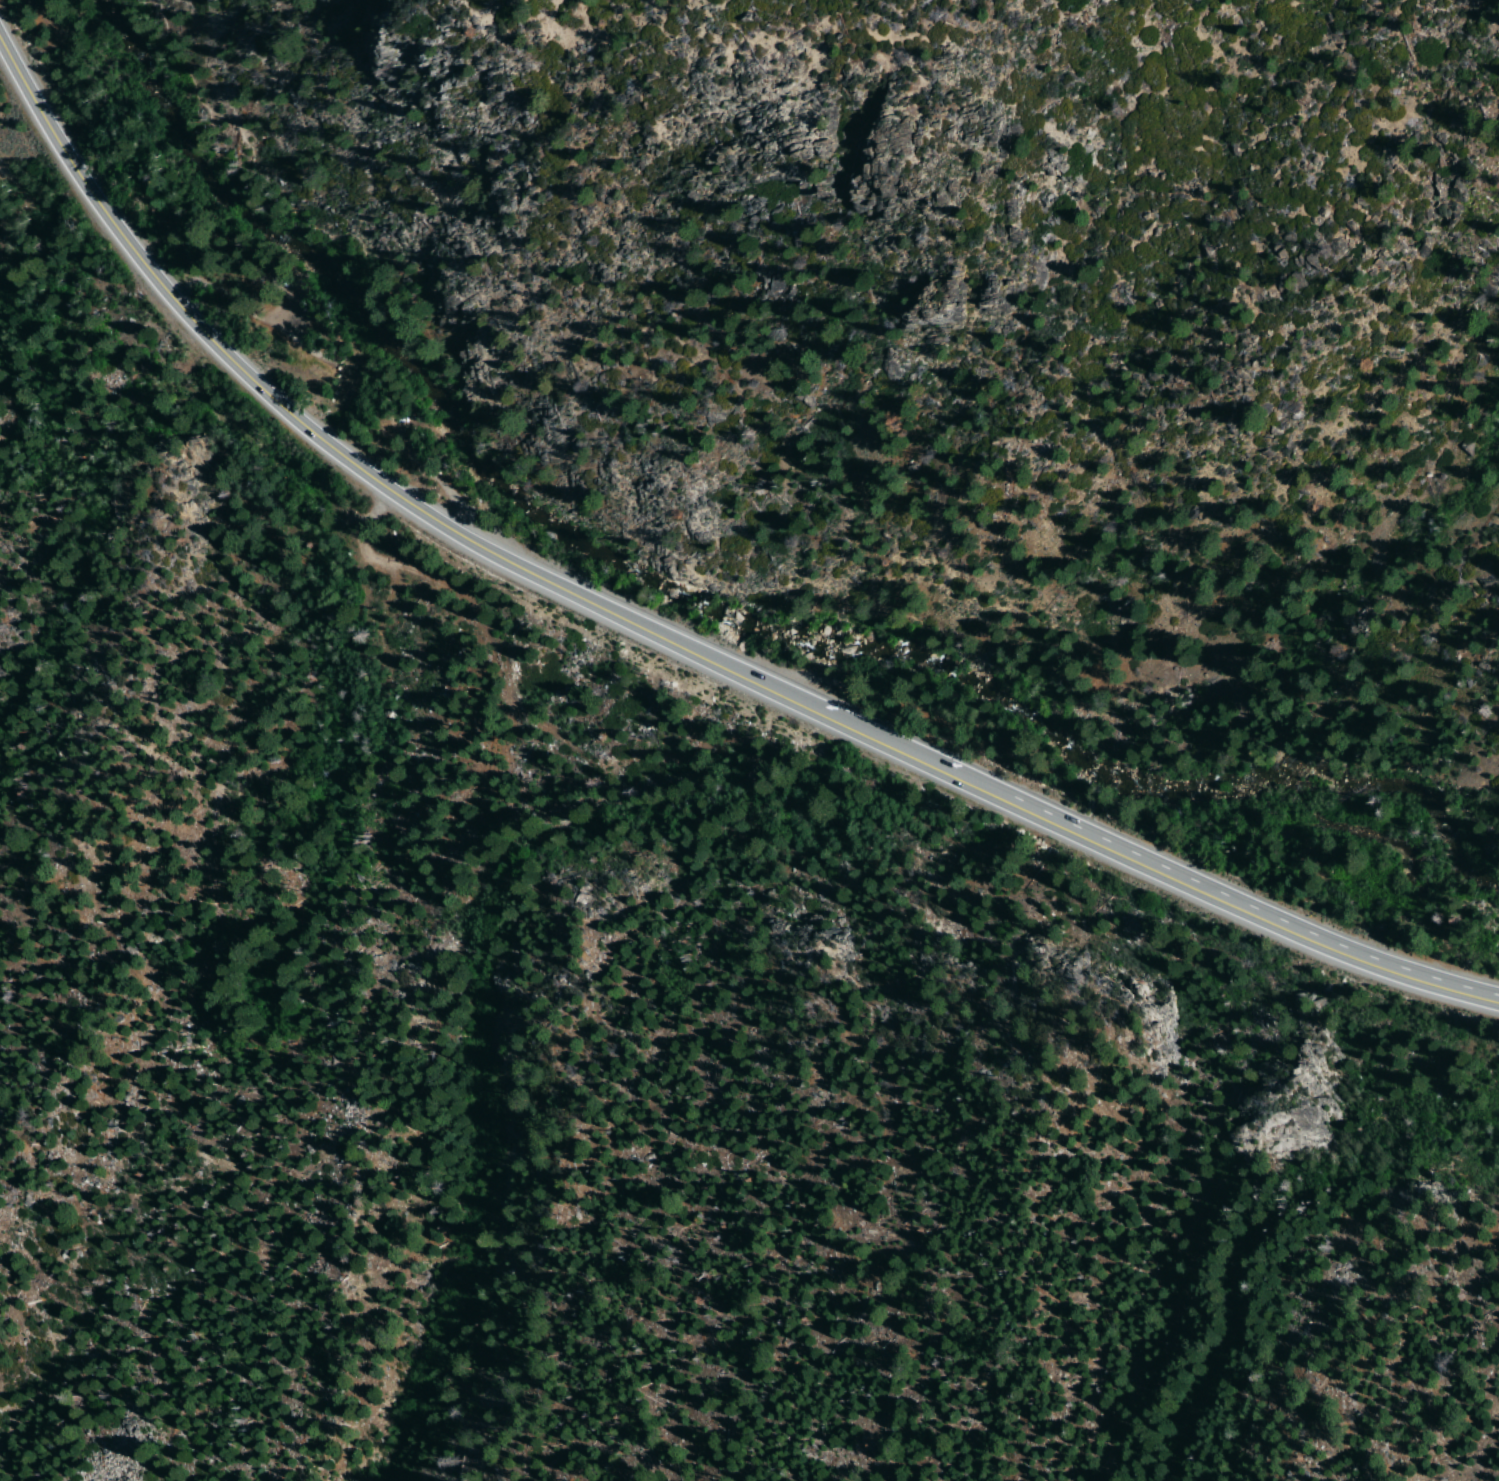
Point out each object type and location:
road: (24, 197)
road: (332, 447)
road: (406, 452)
road: (383, 568)
river: (716, 610)
road: (1142, 863)

